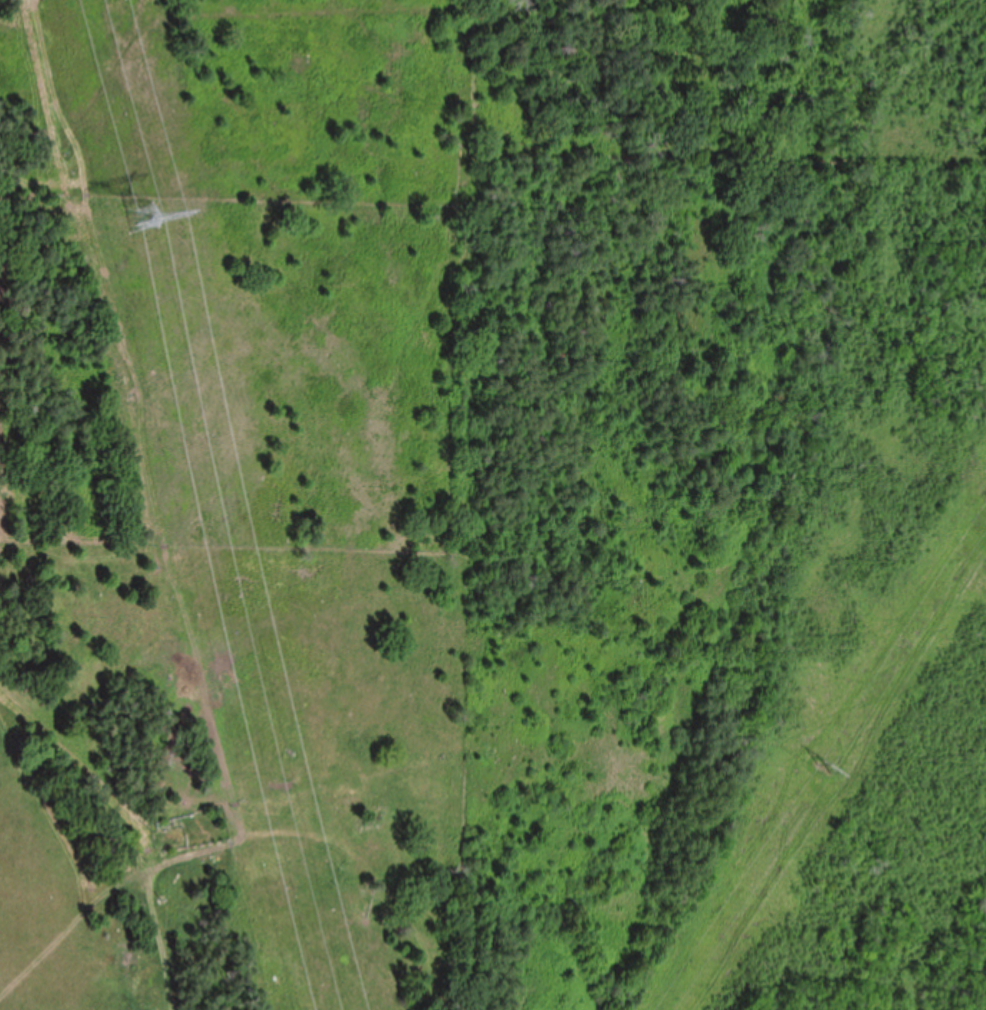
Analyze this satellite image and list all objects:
power tower: (142, 213)
power tower: (826, 768)

